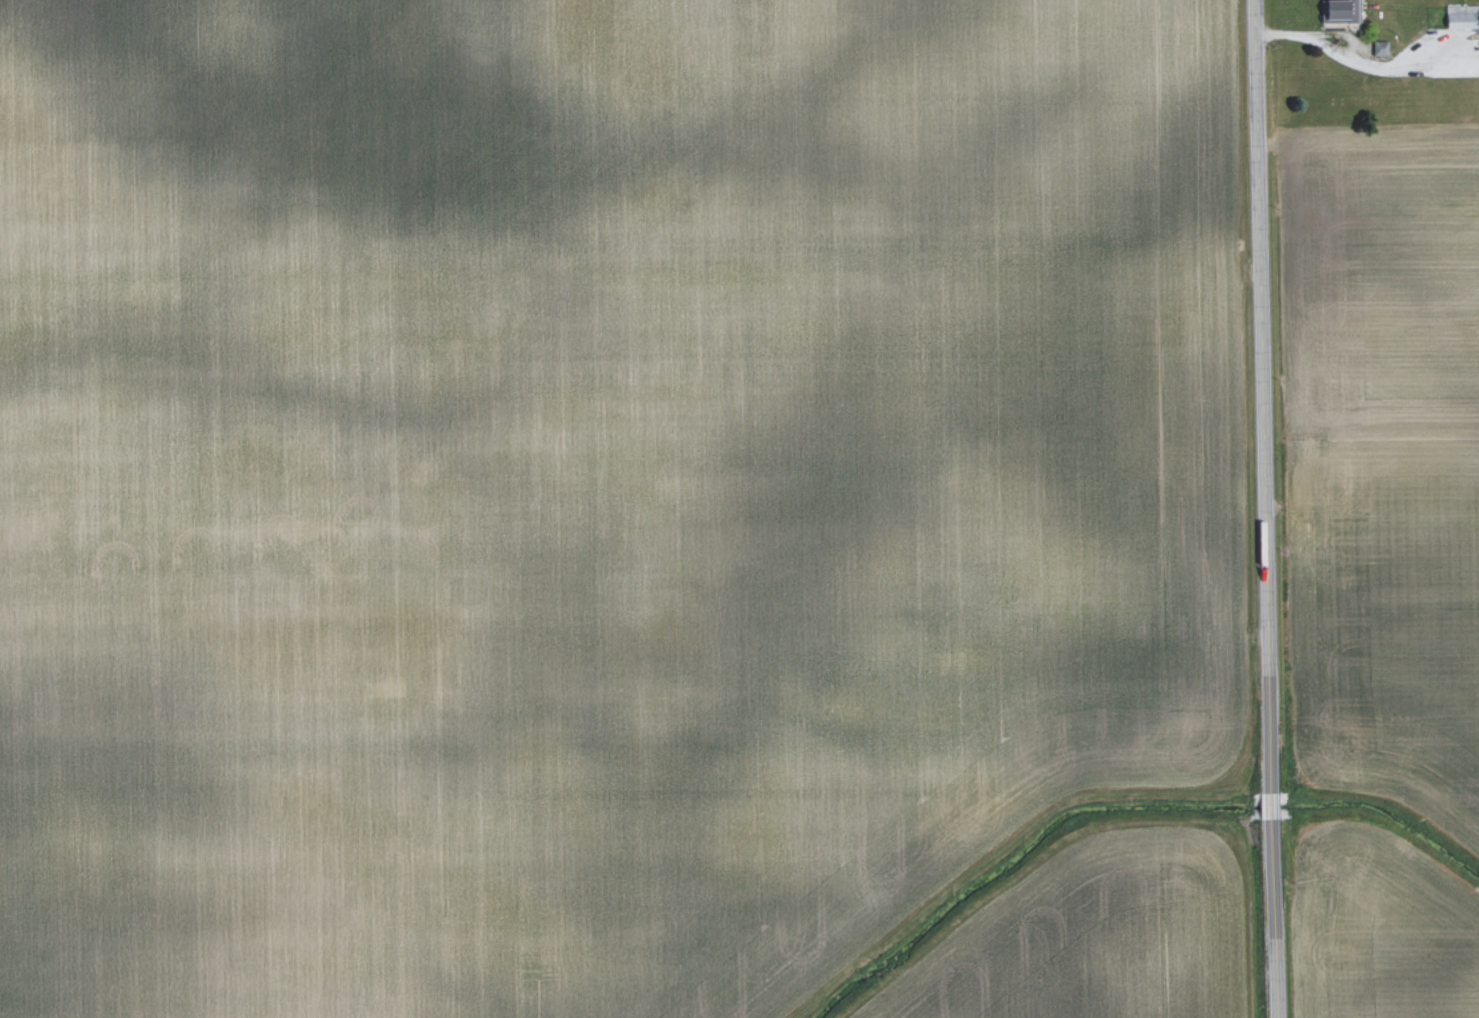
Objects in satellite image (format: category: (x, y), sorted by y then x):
building: (1463, 17)
road: (1249, 509)
road: (1084, 646)

